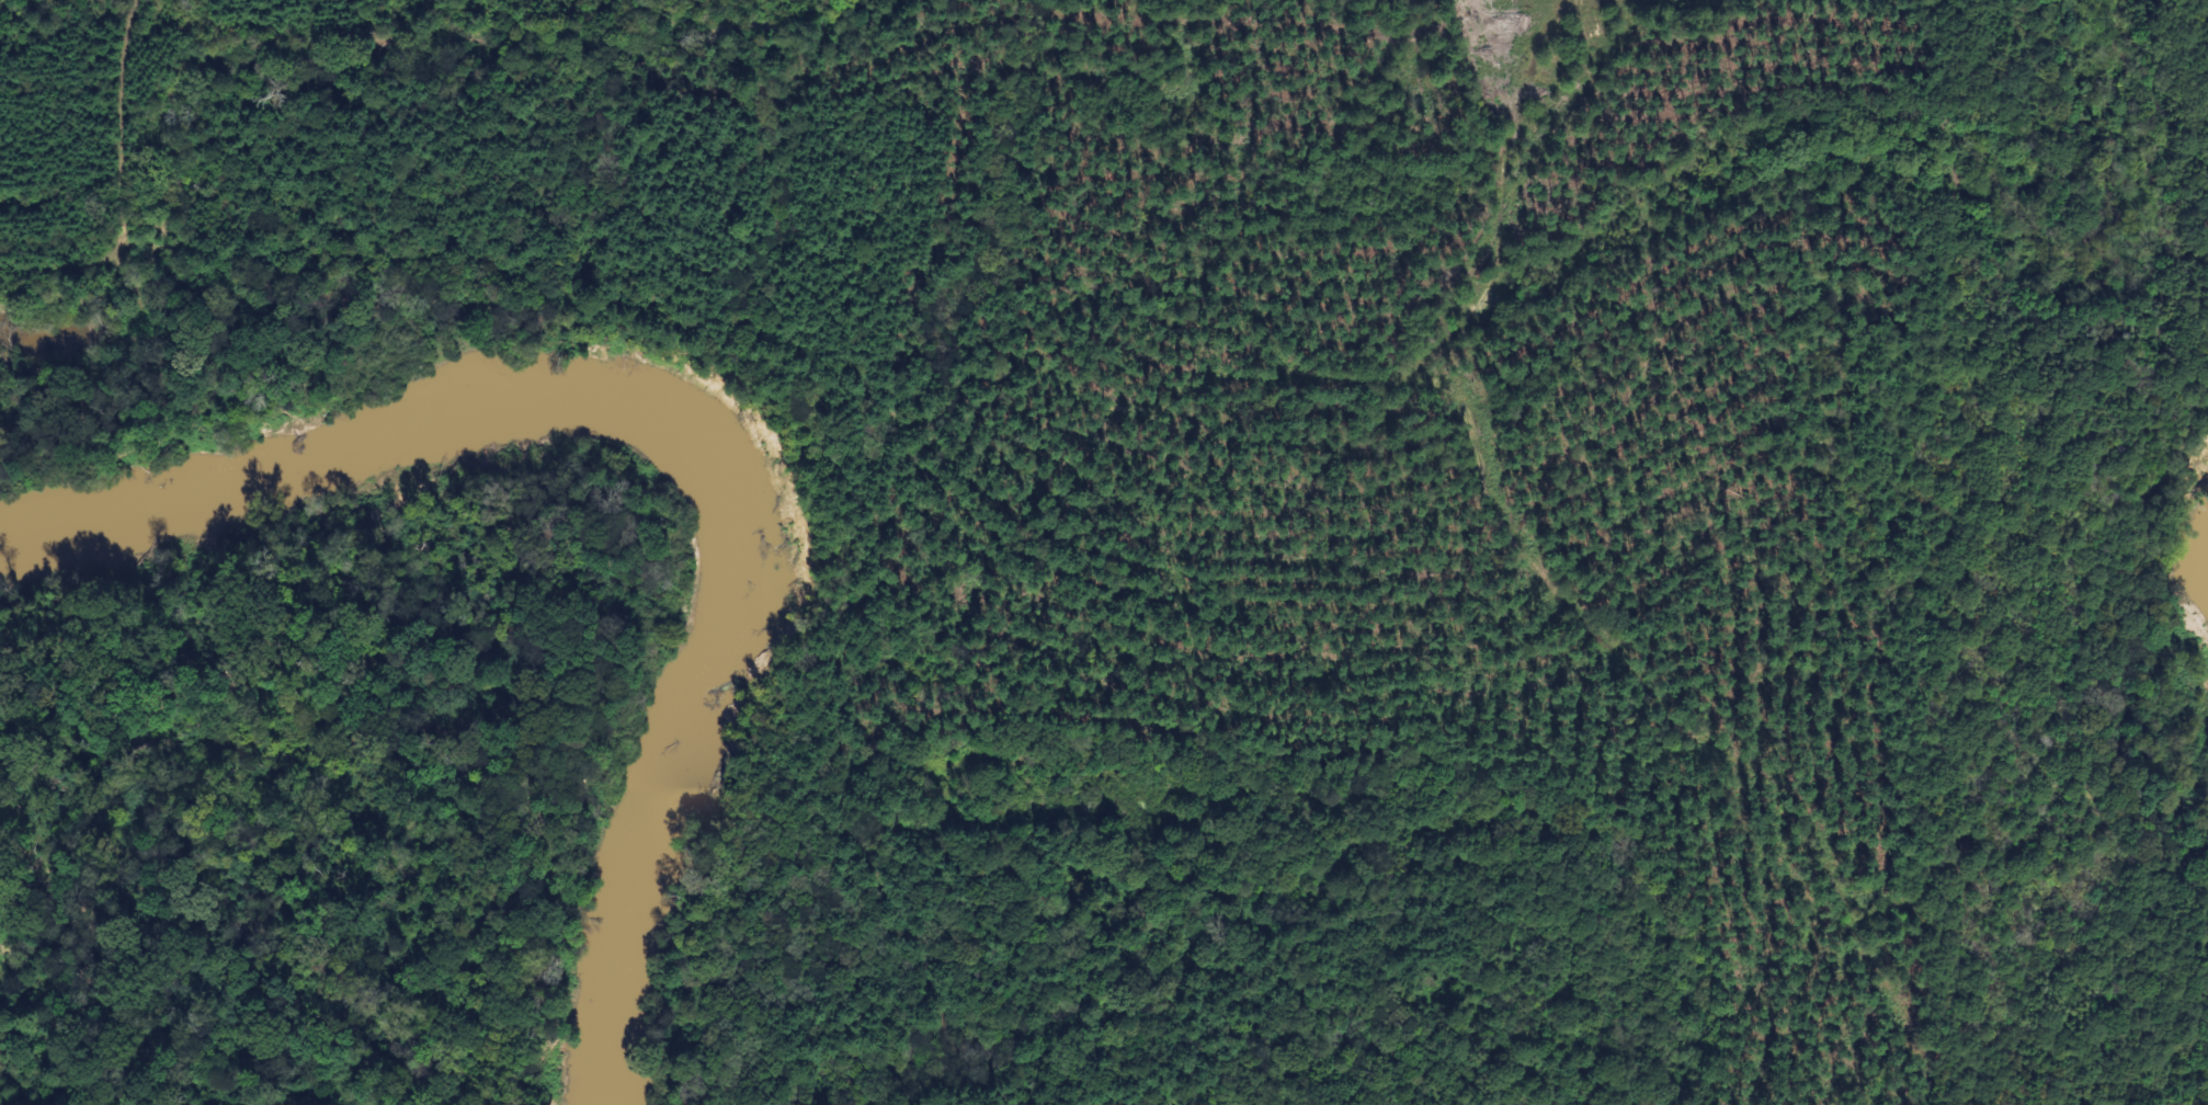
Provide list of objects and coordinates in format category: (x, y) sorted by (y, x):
river: (675, 433)

